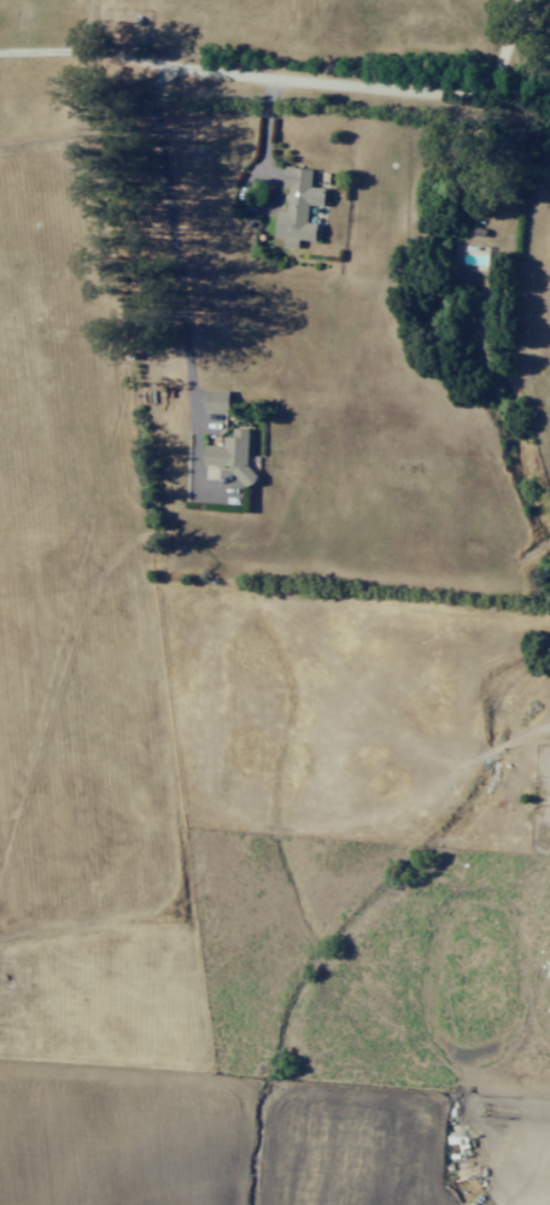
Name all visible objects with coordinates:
road: (503, 48)
road: (275, 70)
building: (298, 206)
road: (174, 270)
building: (217, 400)
building: (232, 454)

